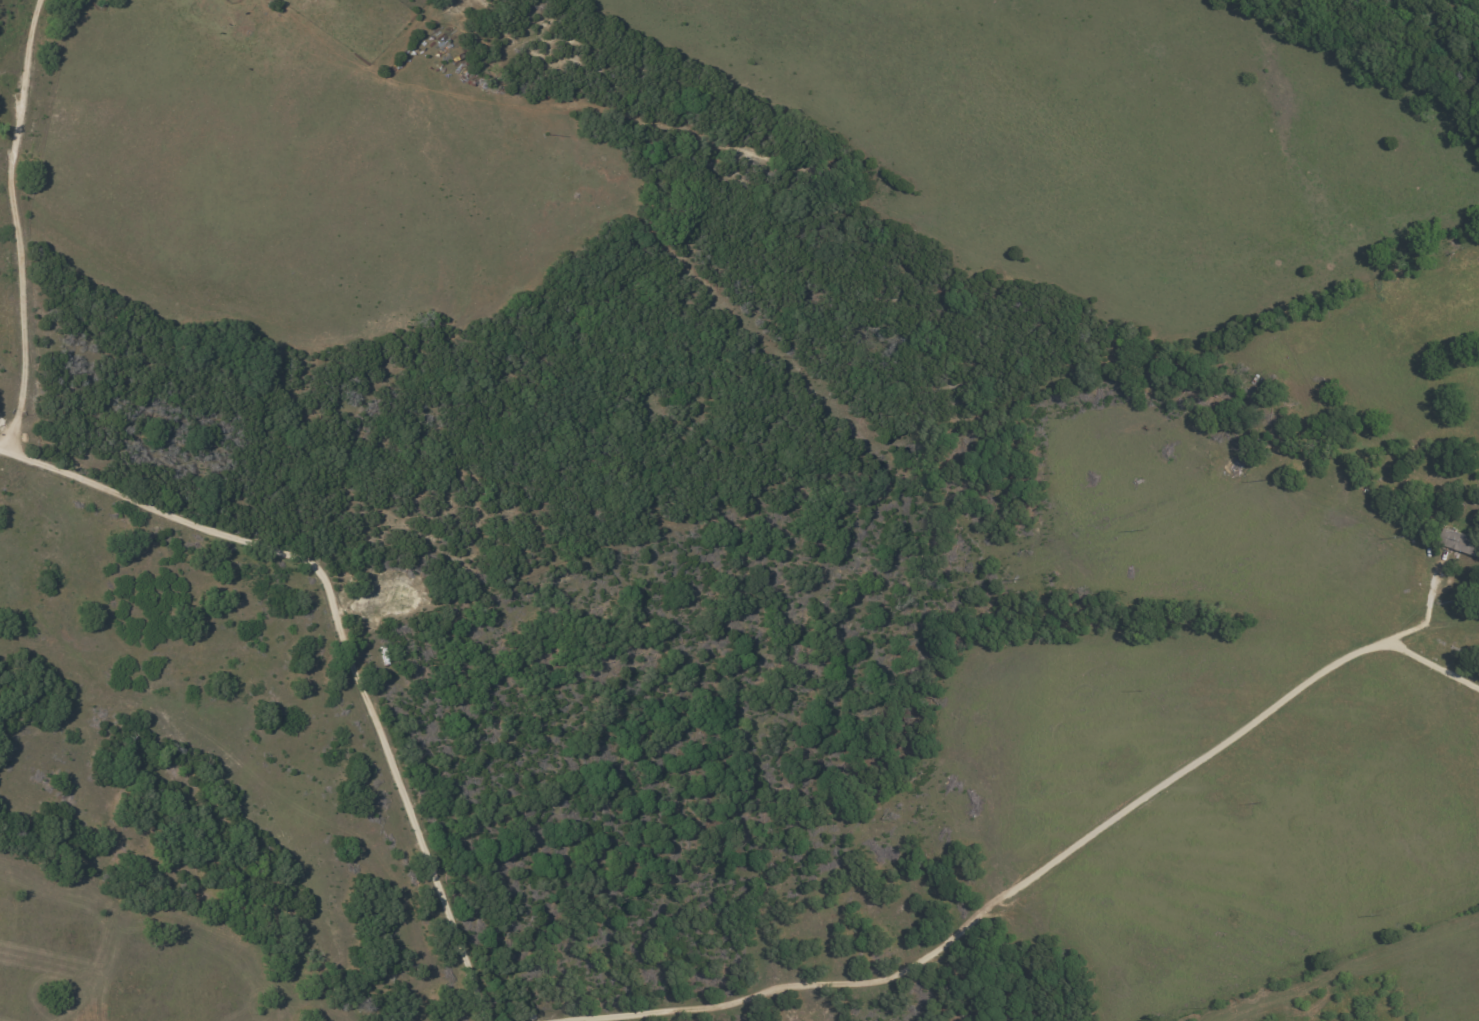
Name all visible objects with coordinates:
road: (22, 226)
road: (4, 449)
building: (1460, 541)
road: (1426, 617)
road: (343, 637)
road: (1433, 664)
road: (1009, 892)

